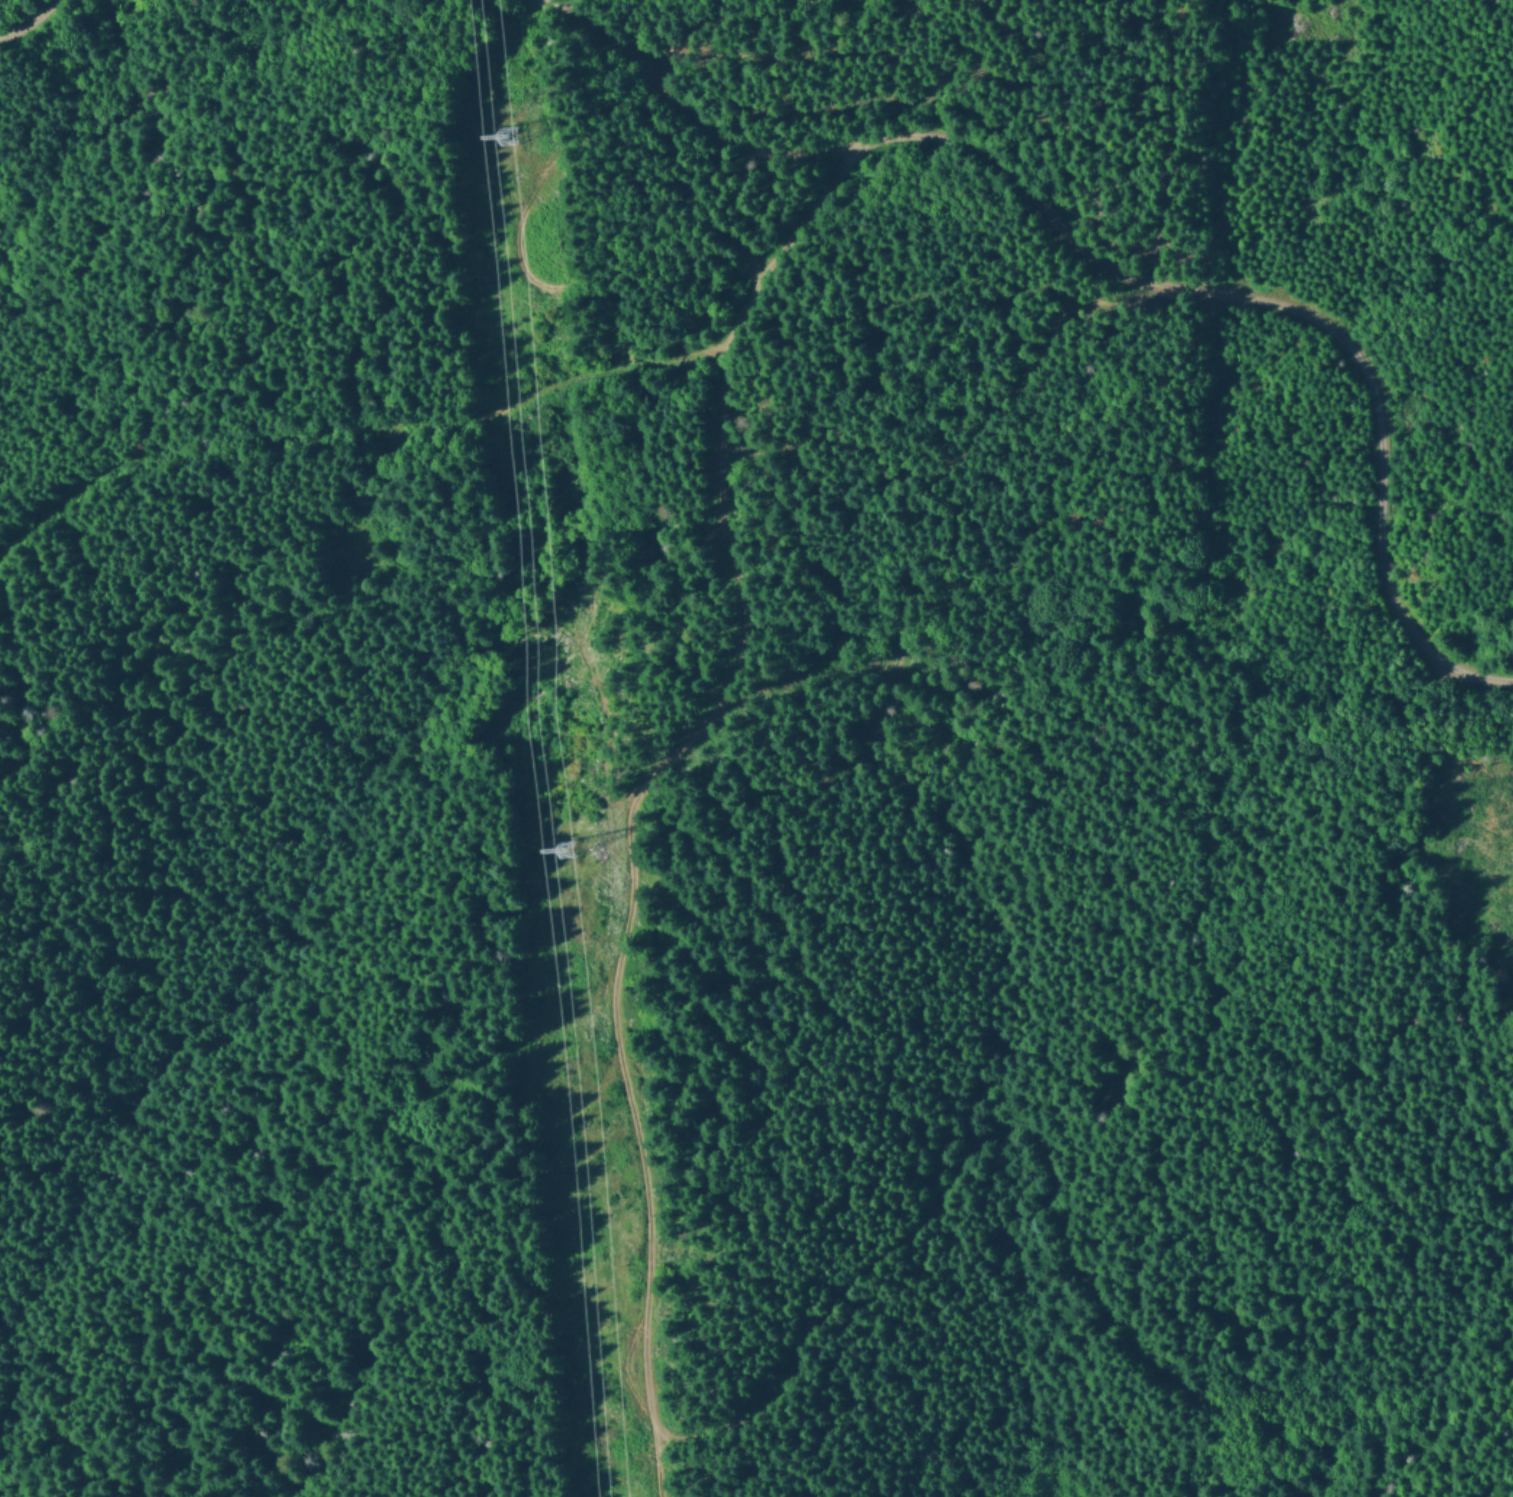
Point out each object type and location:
road: (39, 19)
power tower: (527, 137)
road: (1108, 273)
power tower: (589, 858)

